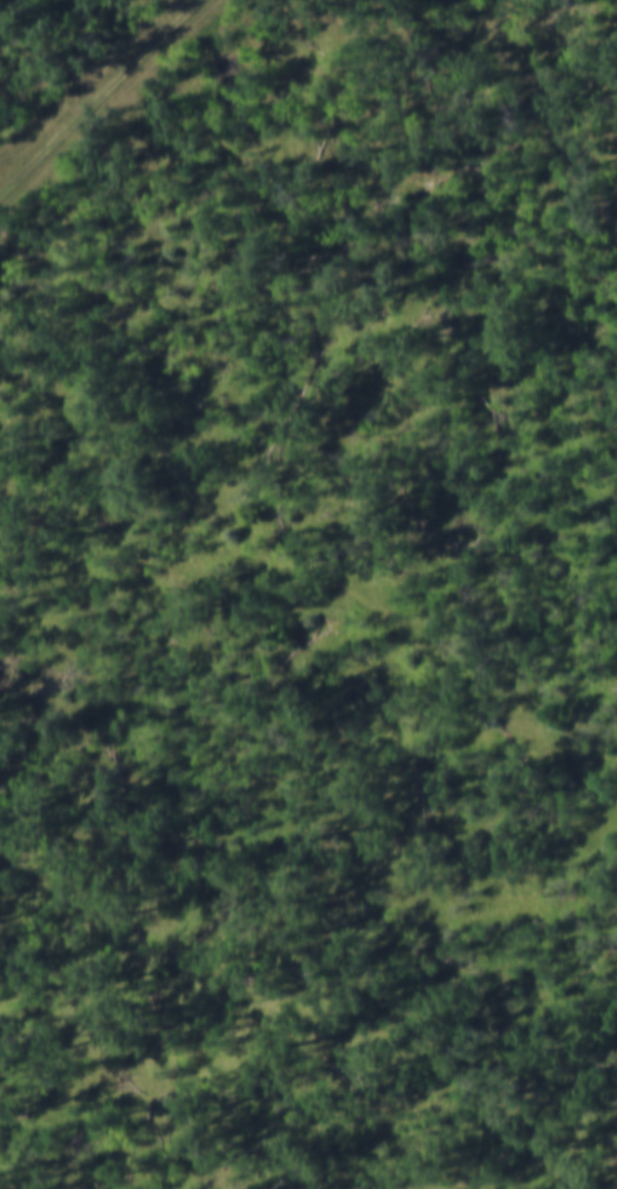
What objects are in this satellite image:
road: (96, 103)

